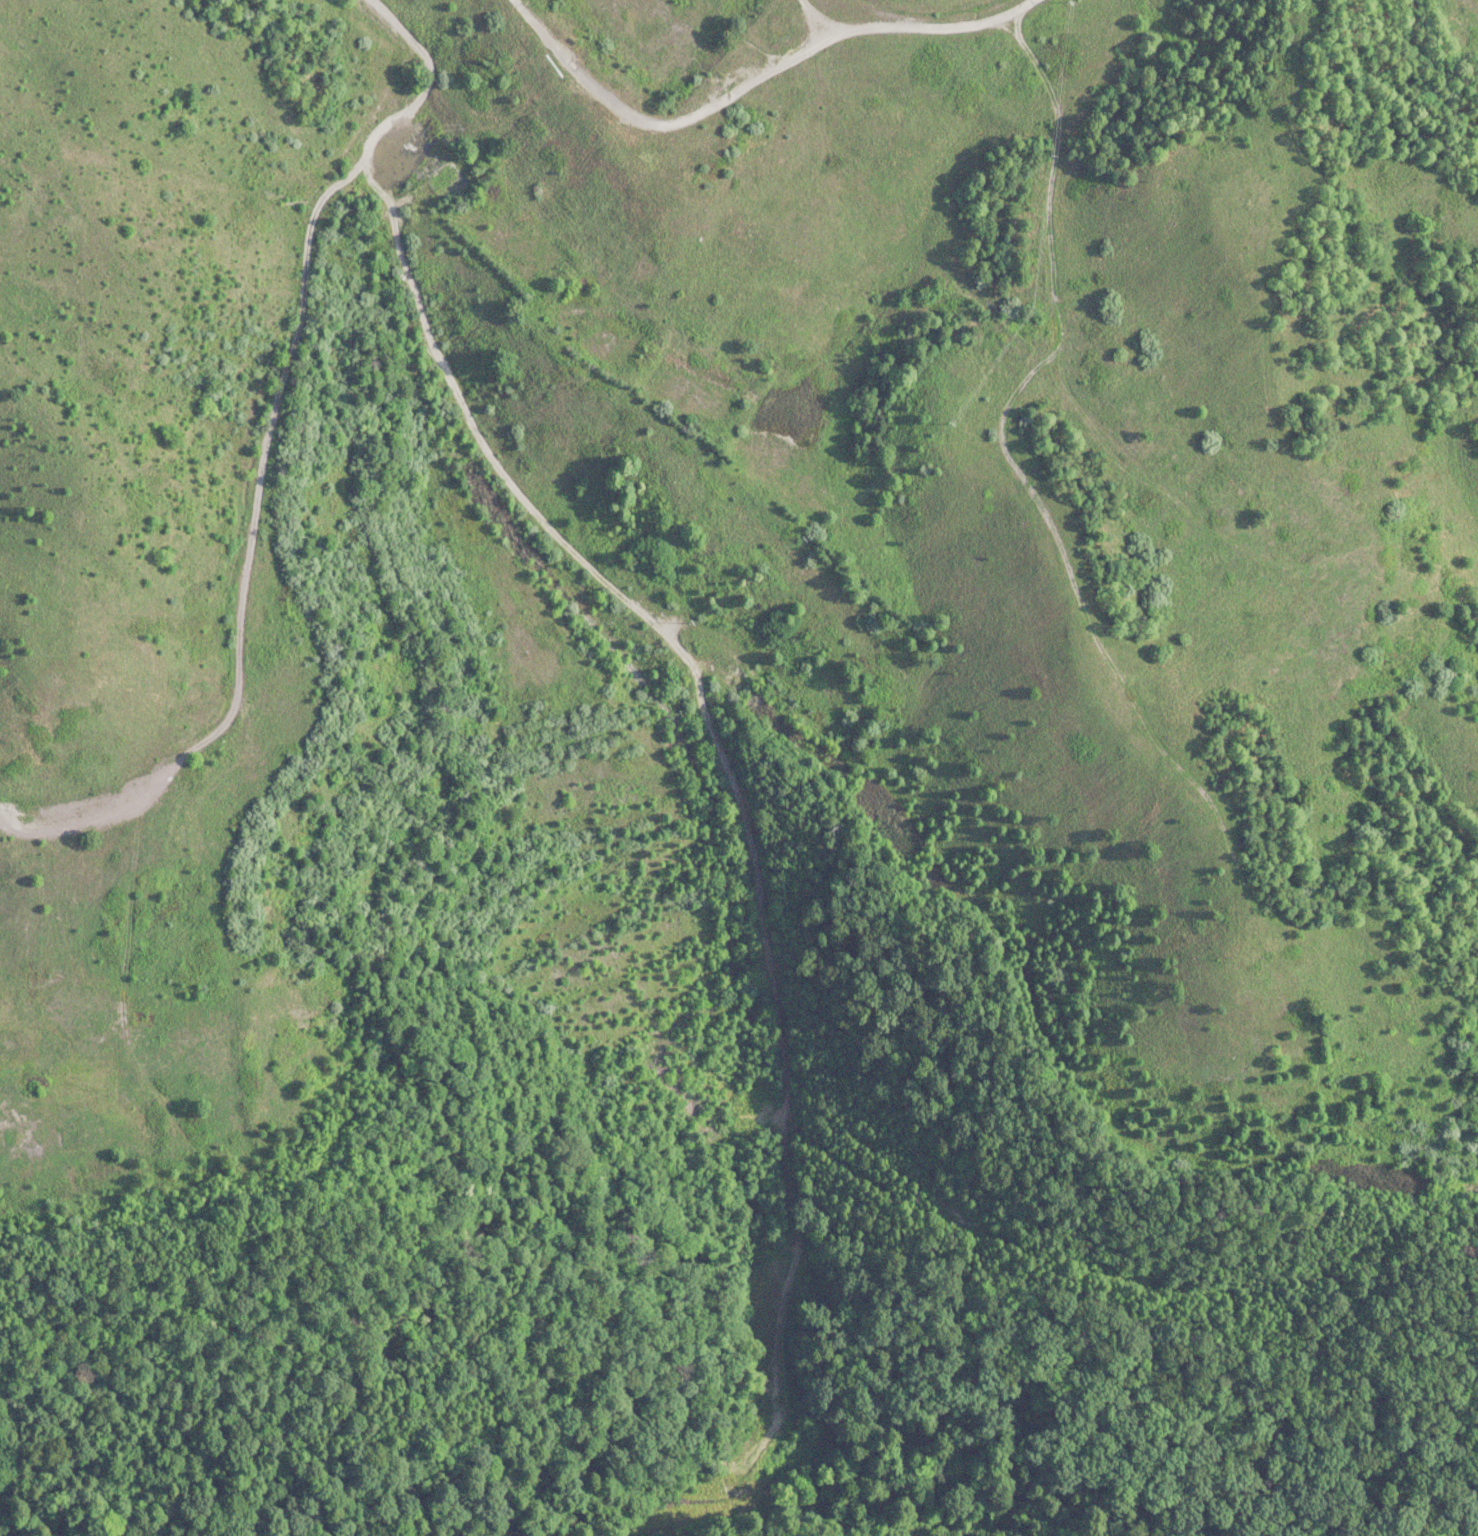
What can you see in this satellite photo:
quarry: (1465, 22)
quarry: (673, 486)
quarry: (1472, 1120)

